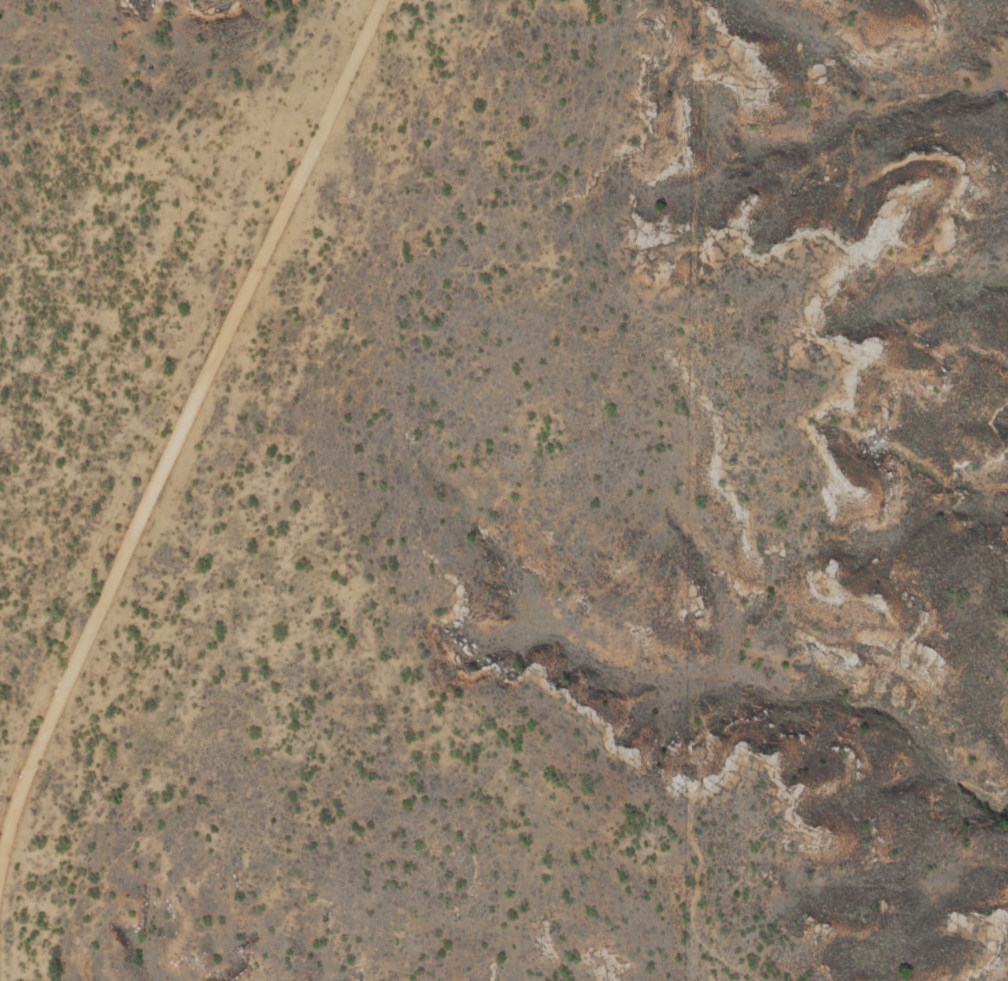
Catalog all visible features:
road: (182, 421)

